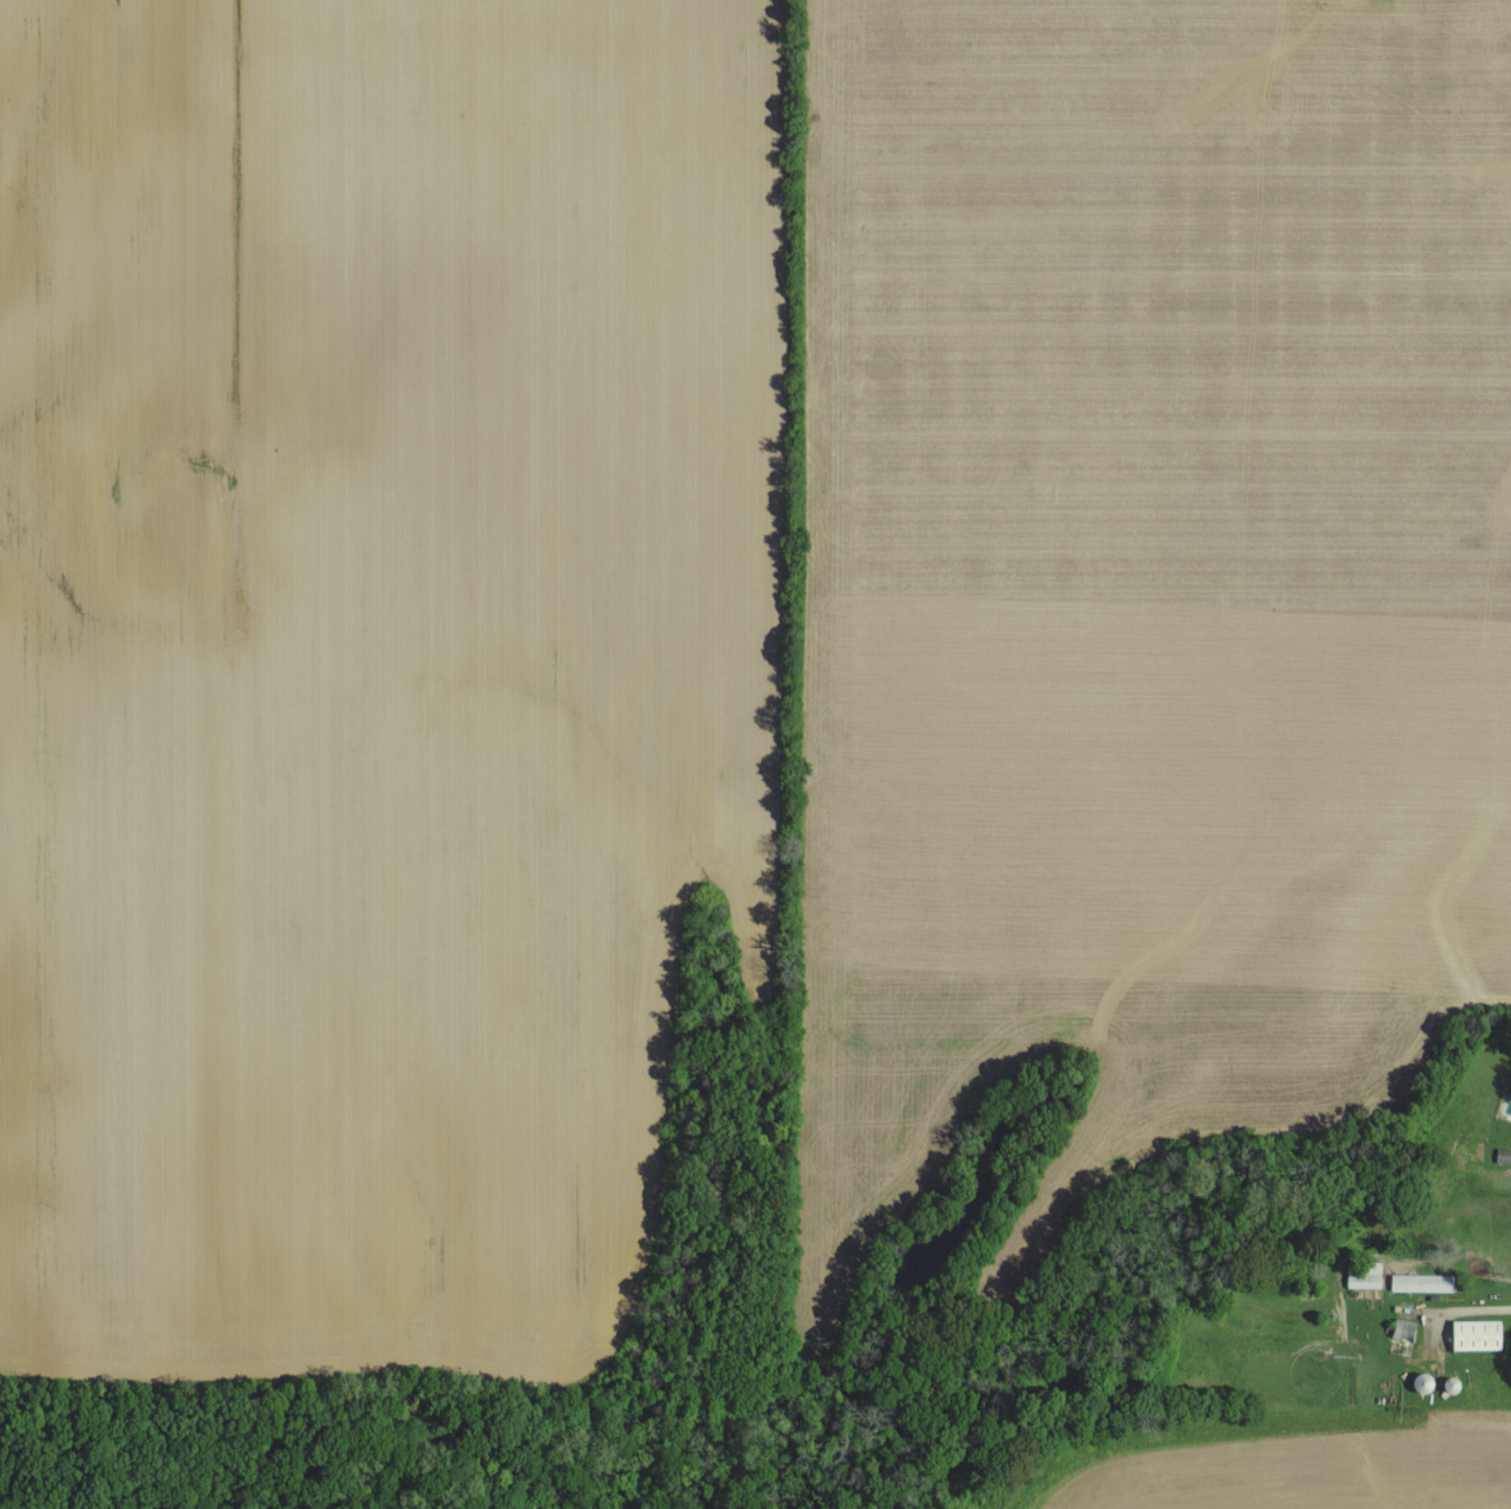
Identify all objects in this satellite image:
building: (1366, 1276)
building: (1423, 1281)
road: (1465, 1307)
building: (1406, 1328)
building: (1480, 1334)

